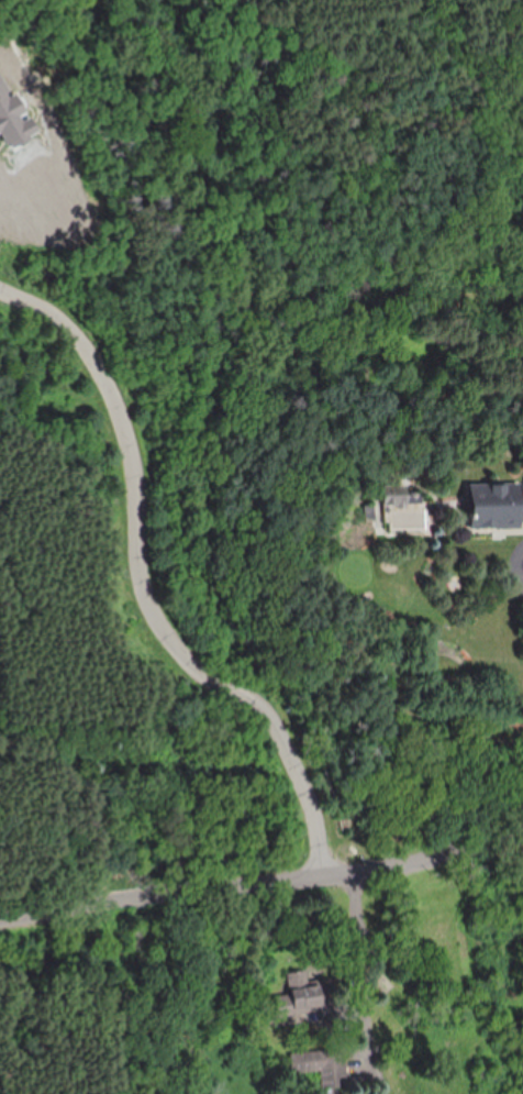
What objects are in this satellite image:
building: (13, 118)
building: (496, 505)
road: (520, 567)
road: (143, 589)
road: (264, 886)
building: (304, 991)
building: (321, 1065)

